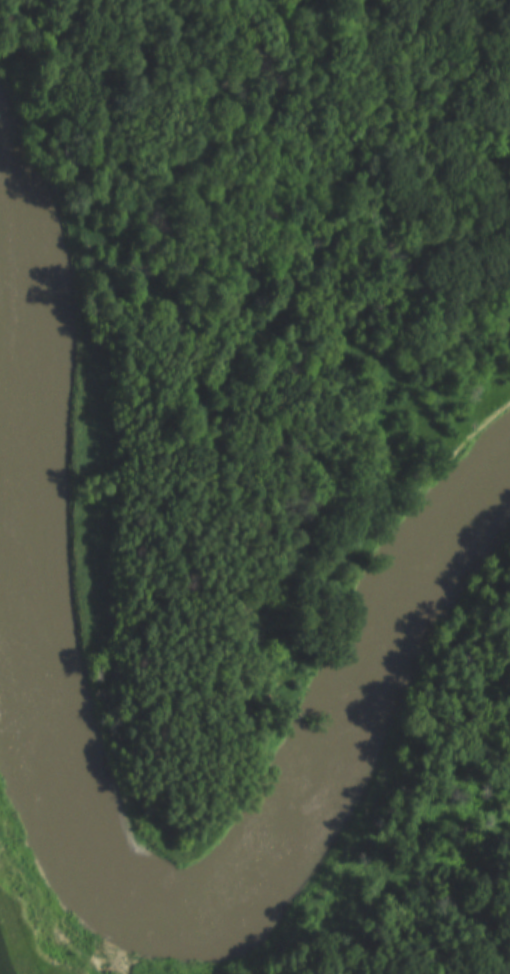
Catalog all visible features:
river: (96, 860)

